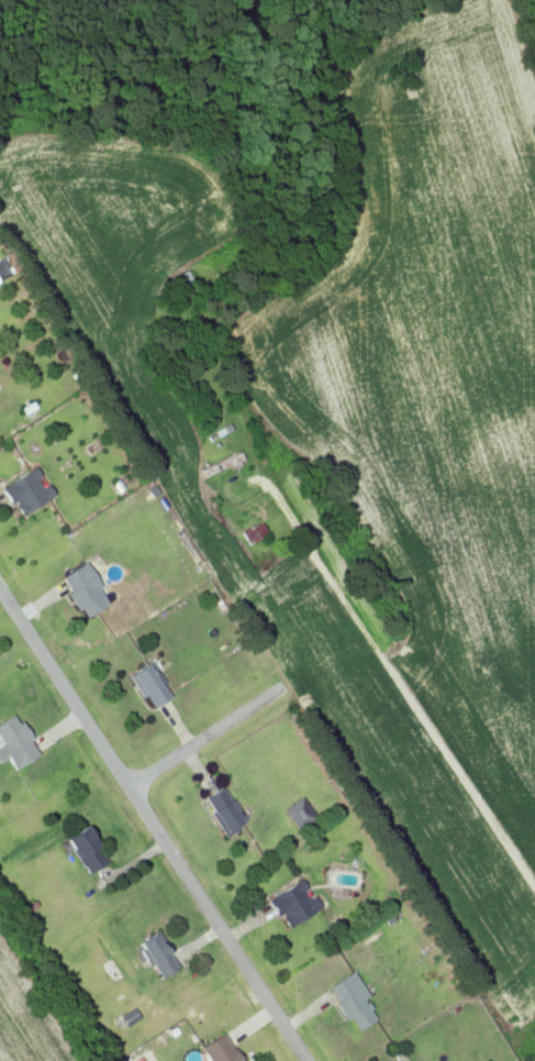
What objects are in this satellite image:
building: (3, 269)
building: (221, 464)
building: (27, 490)
building: (254, 532)
building: (85, 589)
building: (151, 684)
road: (218, 736)
building: (15, 742)
building: (224, 809)
building: (300, 813)
road: (153, 825)
building: (86, 849)
building: (293, 904)
building: (158, 954)
building: (352, 999)
building: (129, 1016)
building: (220, 1049)

